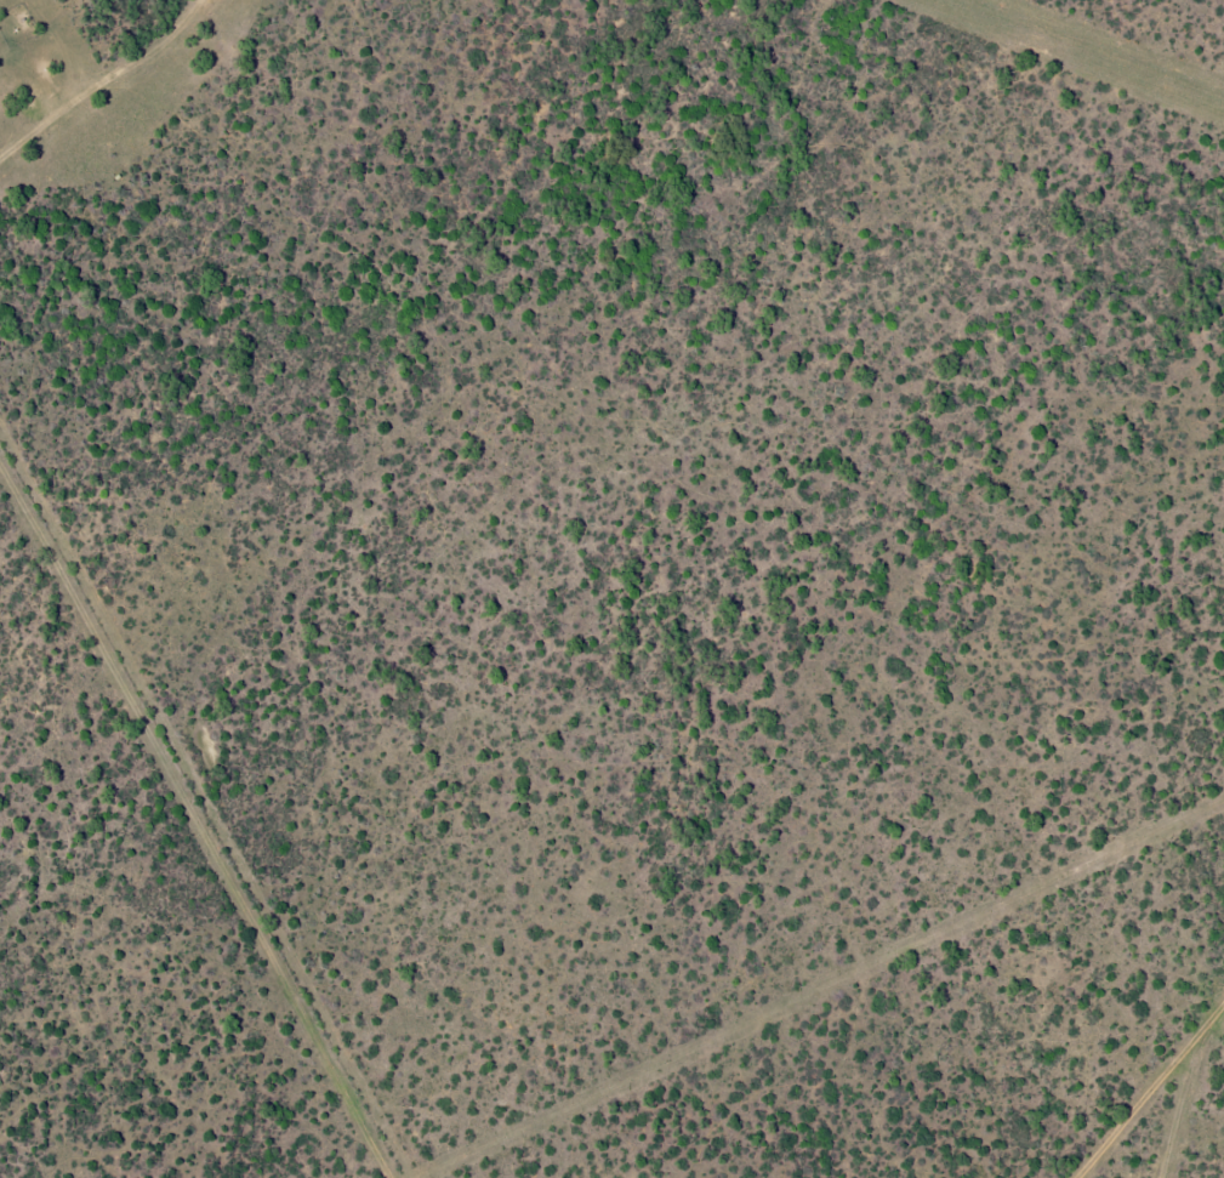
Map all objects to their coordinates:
road: (1152, 1092)

